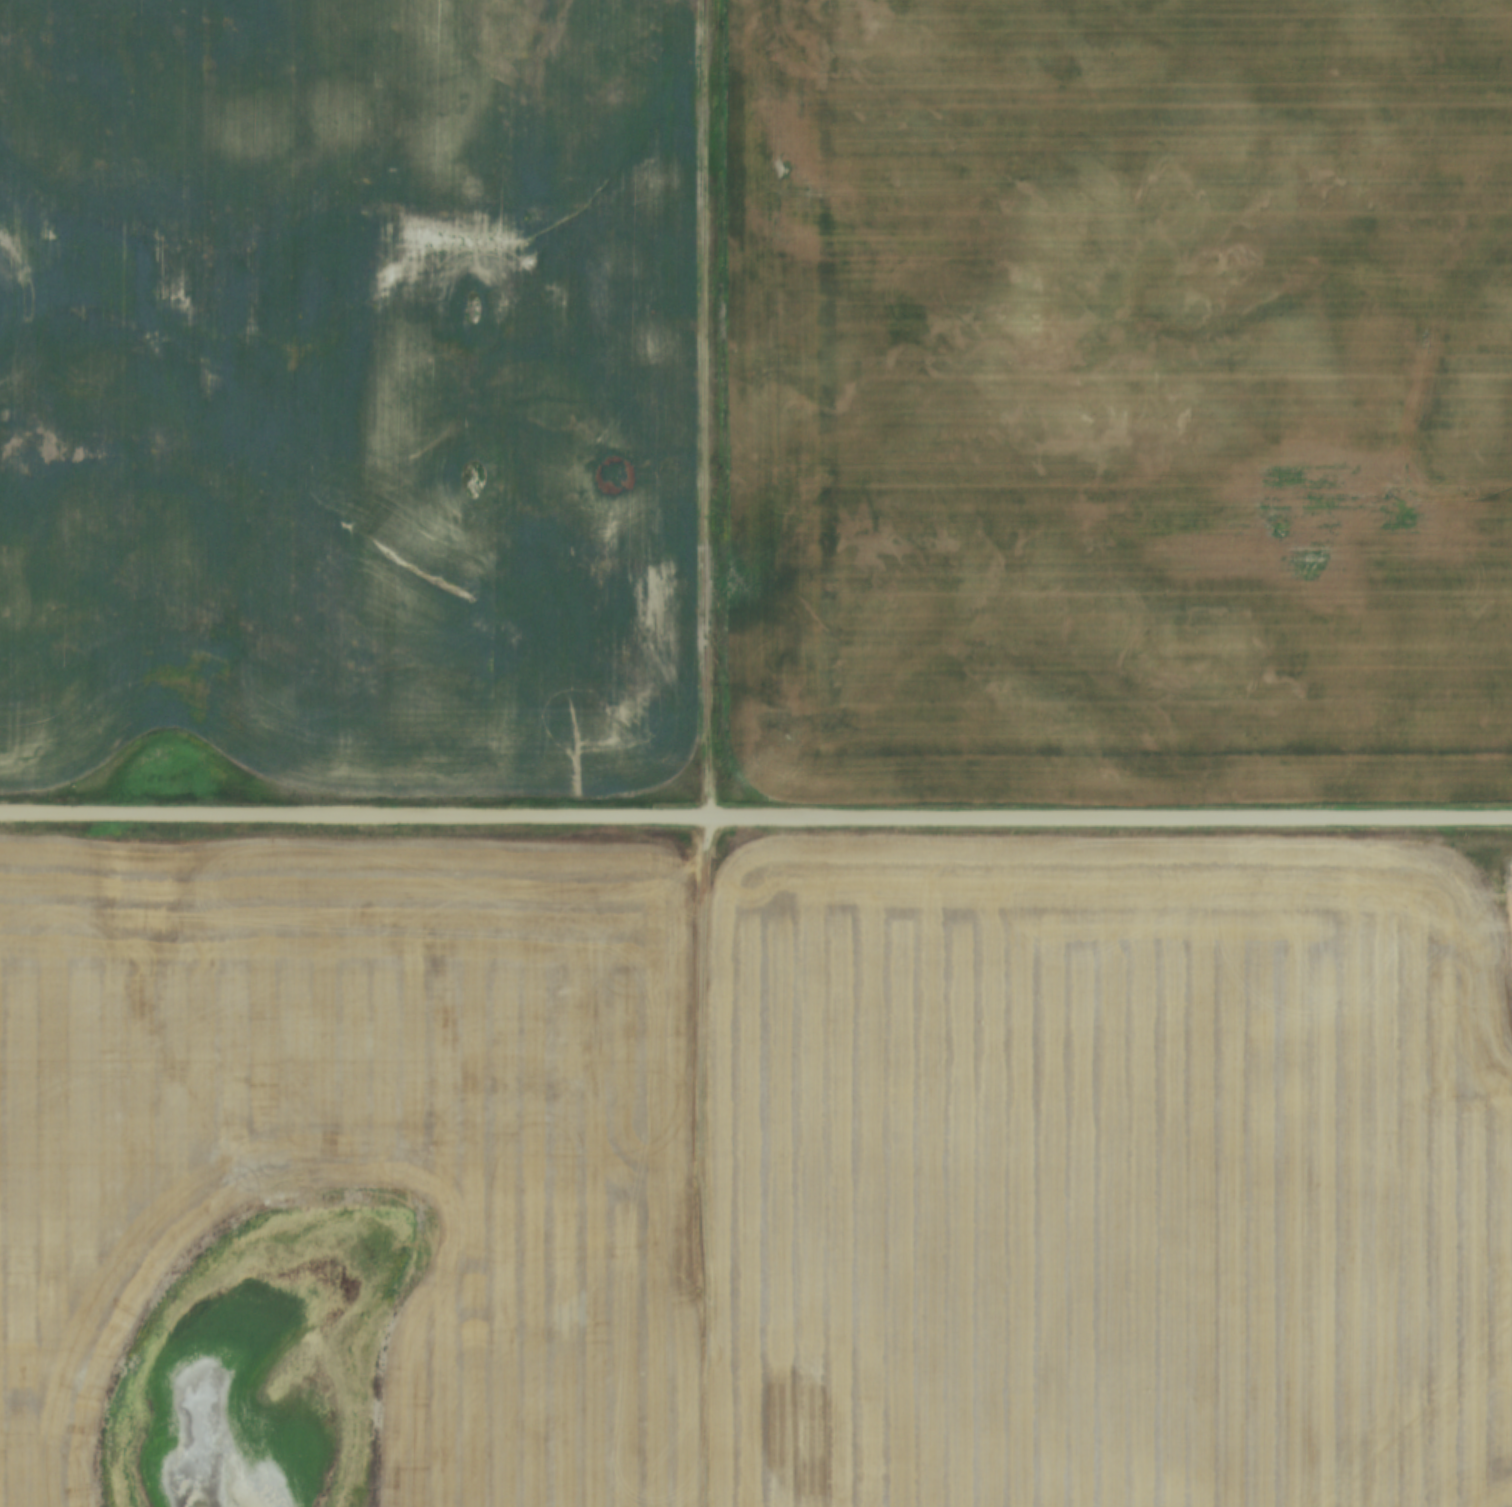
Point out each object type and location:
road: (710, 753)
road: (755, 820)

